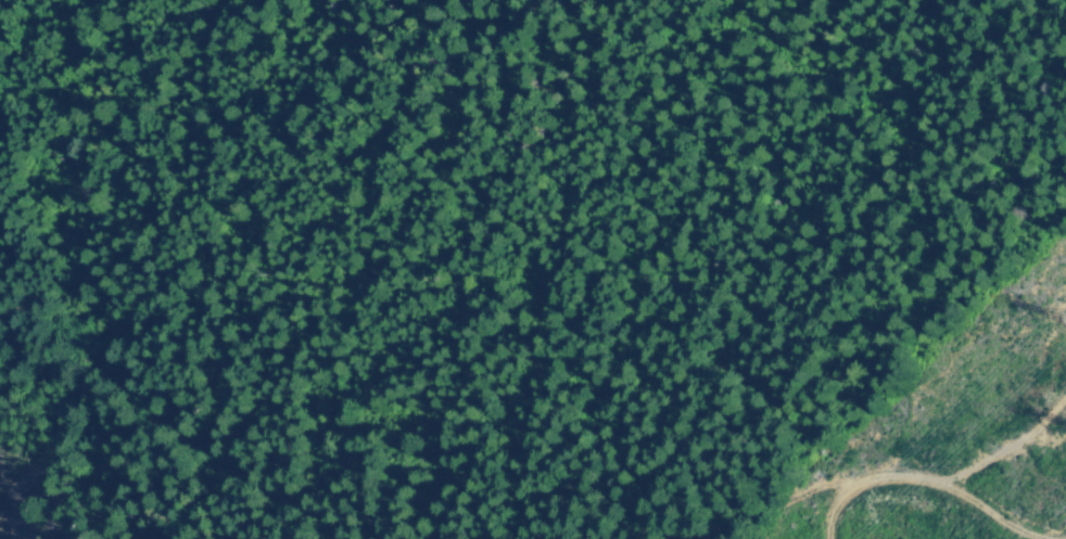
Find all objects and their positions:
road: (134, 450)
road: (889, 513)
road: (798, 526)

